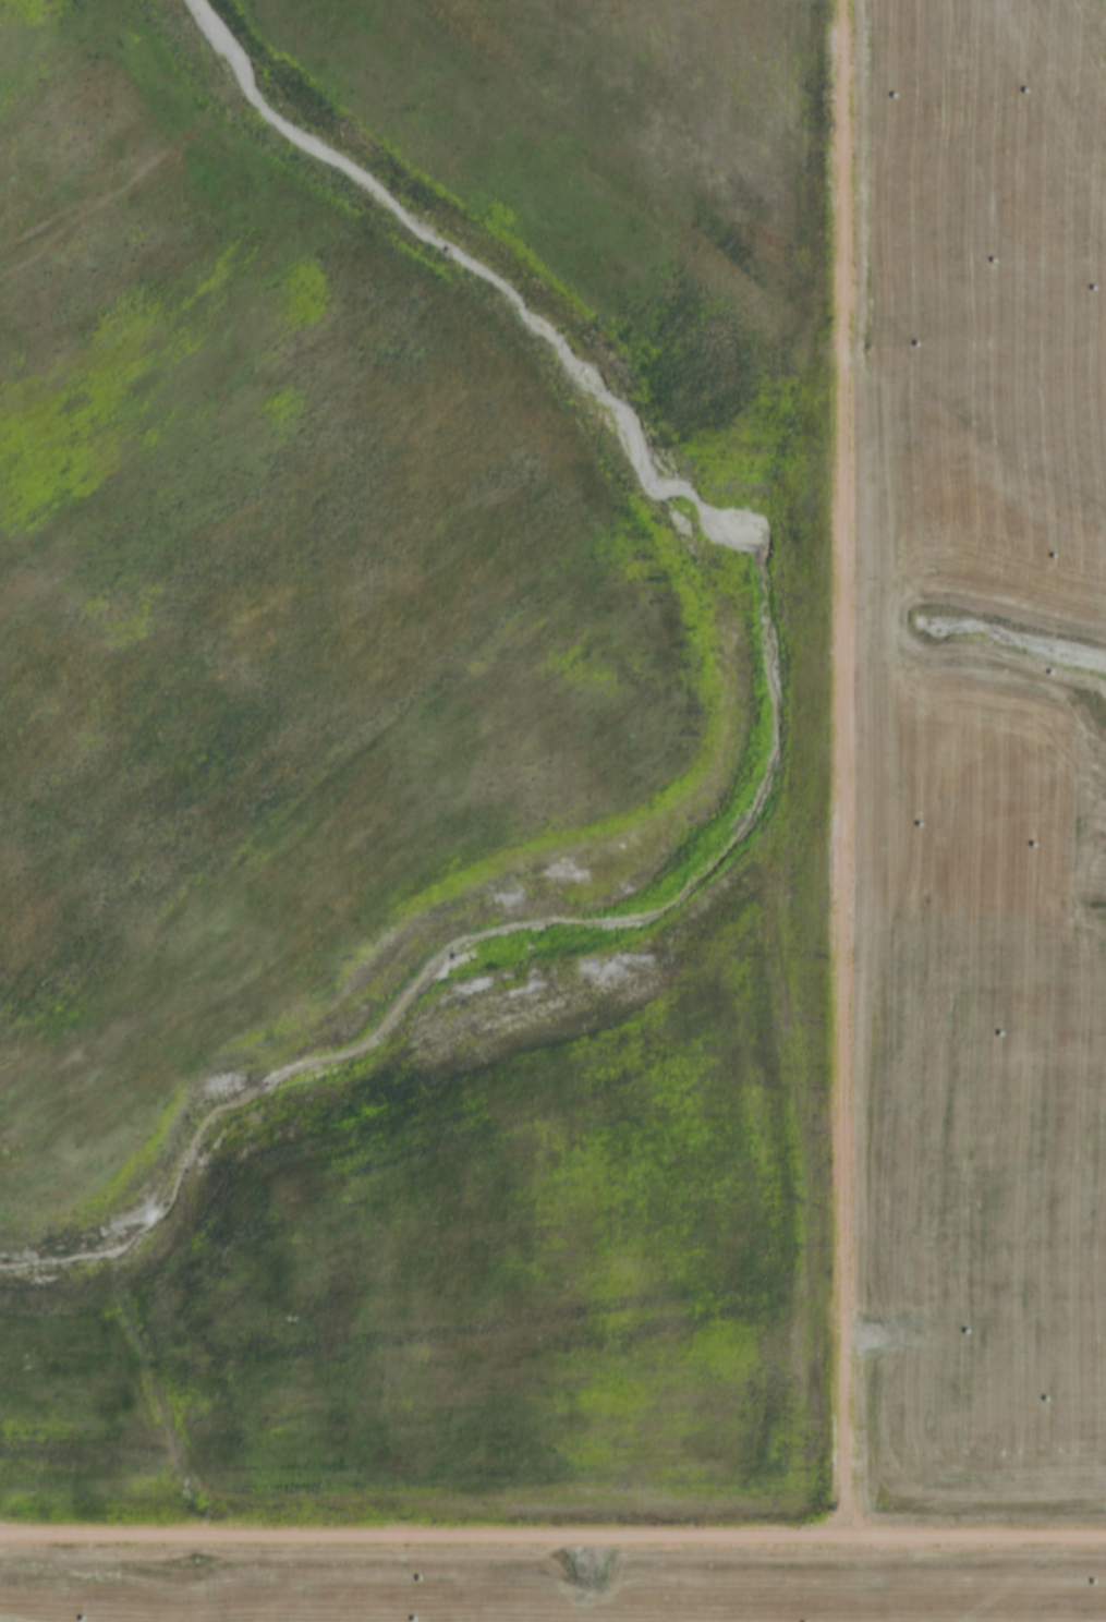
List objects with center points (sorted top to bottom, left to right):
quarry: (567, 771)

